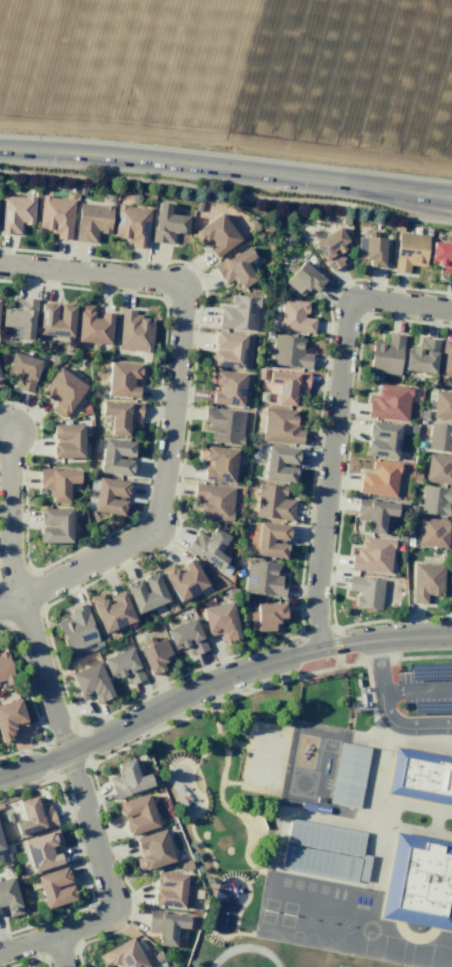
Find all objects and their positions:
crop: (237, 72)
road: (226, 170)
building: (15, 213)
building: (56, 216)
building: (92, 221)
building: (167, 223)
building: (132, 224)
building: (217, 235)
building: (332, 247)
building: (371, 249)
building: (410, 251)
building: (442, 257)
building: (236, 268)
building: (303, 279)
building: (239, 313)
building: (20, 317)
building: (295, 317)
road: (180, 318)
building: (55, 319)
building: (93, 326)
building: (134, 332)
building: (231, 350)
building: (289, 352)
building: (386, 354)
building: (422, 357)
building: (446, 359)
building: (23, 371)
building: (123, 379)
building: (1, 382)
building: (285, 385)
building: (226, 387)
building: (390, 402)
building: (442, 405)
building: (121, 416)
building: (224, 425)
building: (281, 426)
road: (340, 427)
building: (440, 437)
building: (382, 440)
building: (67, 441)
building: (116, 457)
building: (218, 463)
building: (280, 464)
building: (439, 469)
building: (379, 479)
building: (57, 482)
building: (110, 496)
building: (435, 501)
building: (214, 502)
building: (273, 503)
building: (374, 513)
road: (8, 518)
building: (55, 525)
building: (433, 532)
building: (268, 539)
building: (209, 546)
building: (372, 555)
road: (76, 570)
building: (183, 578)
building: (263, 578)
building: (426, 581)
building: (146, 592)
building: (366, 592)
building: (111, 611)
building: (268, 616)
building: (220, 621)
building: (77, 630)
building: (186, 637)
building: (155, 654)
building: (122, 666)
building: (5, 669)
road: (44, 676)
road: (218, 681)
building: (91, 683)
road: (417, 692)
road: (388, 710)
building: (11, 718)
road: (216, 728)
road: (250, 734)
park: (266, 759)
road: (179, 761)
road: (284, 763)
building: (349, 775)
building: (421, 776)
park: (228, 777)
building: (128, 779)
road: (233, 782)
road: (199, 810)
building: (137, 814)
building: (33, 817)
road: (249, 825)
building: (326, 837)
building: (1, 844)
building: (43, 850)
building: (152, 850)
building: (321, 862)
building: (419, 882)
building: (55, 887)
building: (169, 889)
road: (114, 892)
building: (9, 898)
road: (239, 910)
building: (166, 926)
road: (242, 933)
road: (62, 954)
building: (124, 955)
building: (171, 966)

